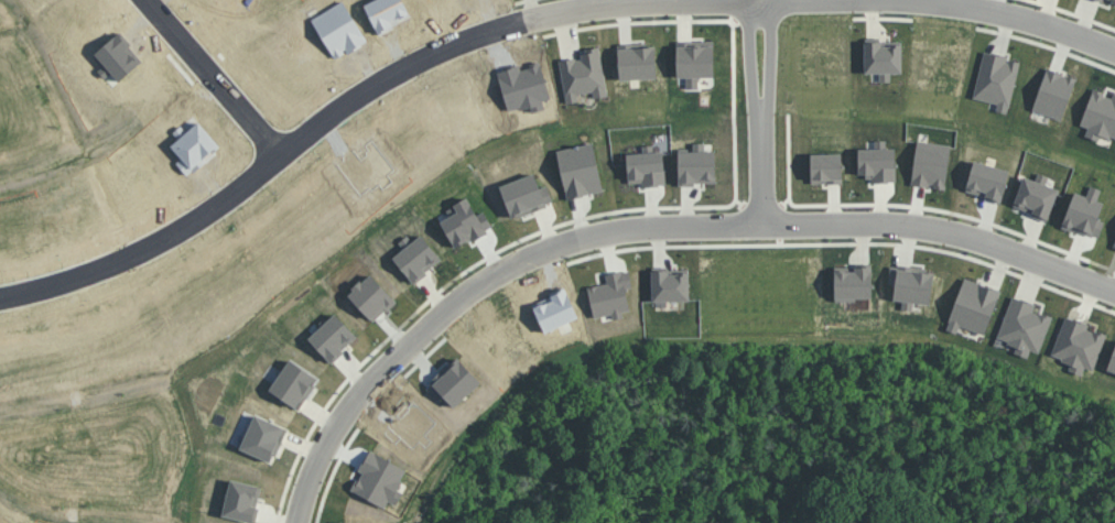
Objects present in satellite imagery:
building: (1102, 0)
building: (1113, 0)
road: (825, 2)
road: (769, 58)
building: (883, 58)
road: (749, 59)
building: (637, 61)
building: (694, 62)
building: (583, 75)
building: (996, 79)
building: (1053, 92)
building: (1100, 115)
road: (316, 138)
building: (877, 162)
building: (696, 164)
building: (930, 164)
building: (646, 166)
building: (825, 167)
road: (764, 175)
building: (986, 179)
building: (1084, 213)
road: (869, 231)
building: (1114, 246)
road: (154, 251)
building: (852, 282)
building: (670, 285)
building: (912, 286)
building: (973, 306)
building: (1024, 326)
road: (416, 335)
building: (1078, 345)
building: (1112, 361)

